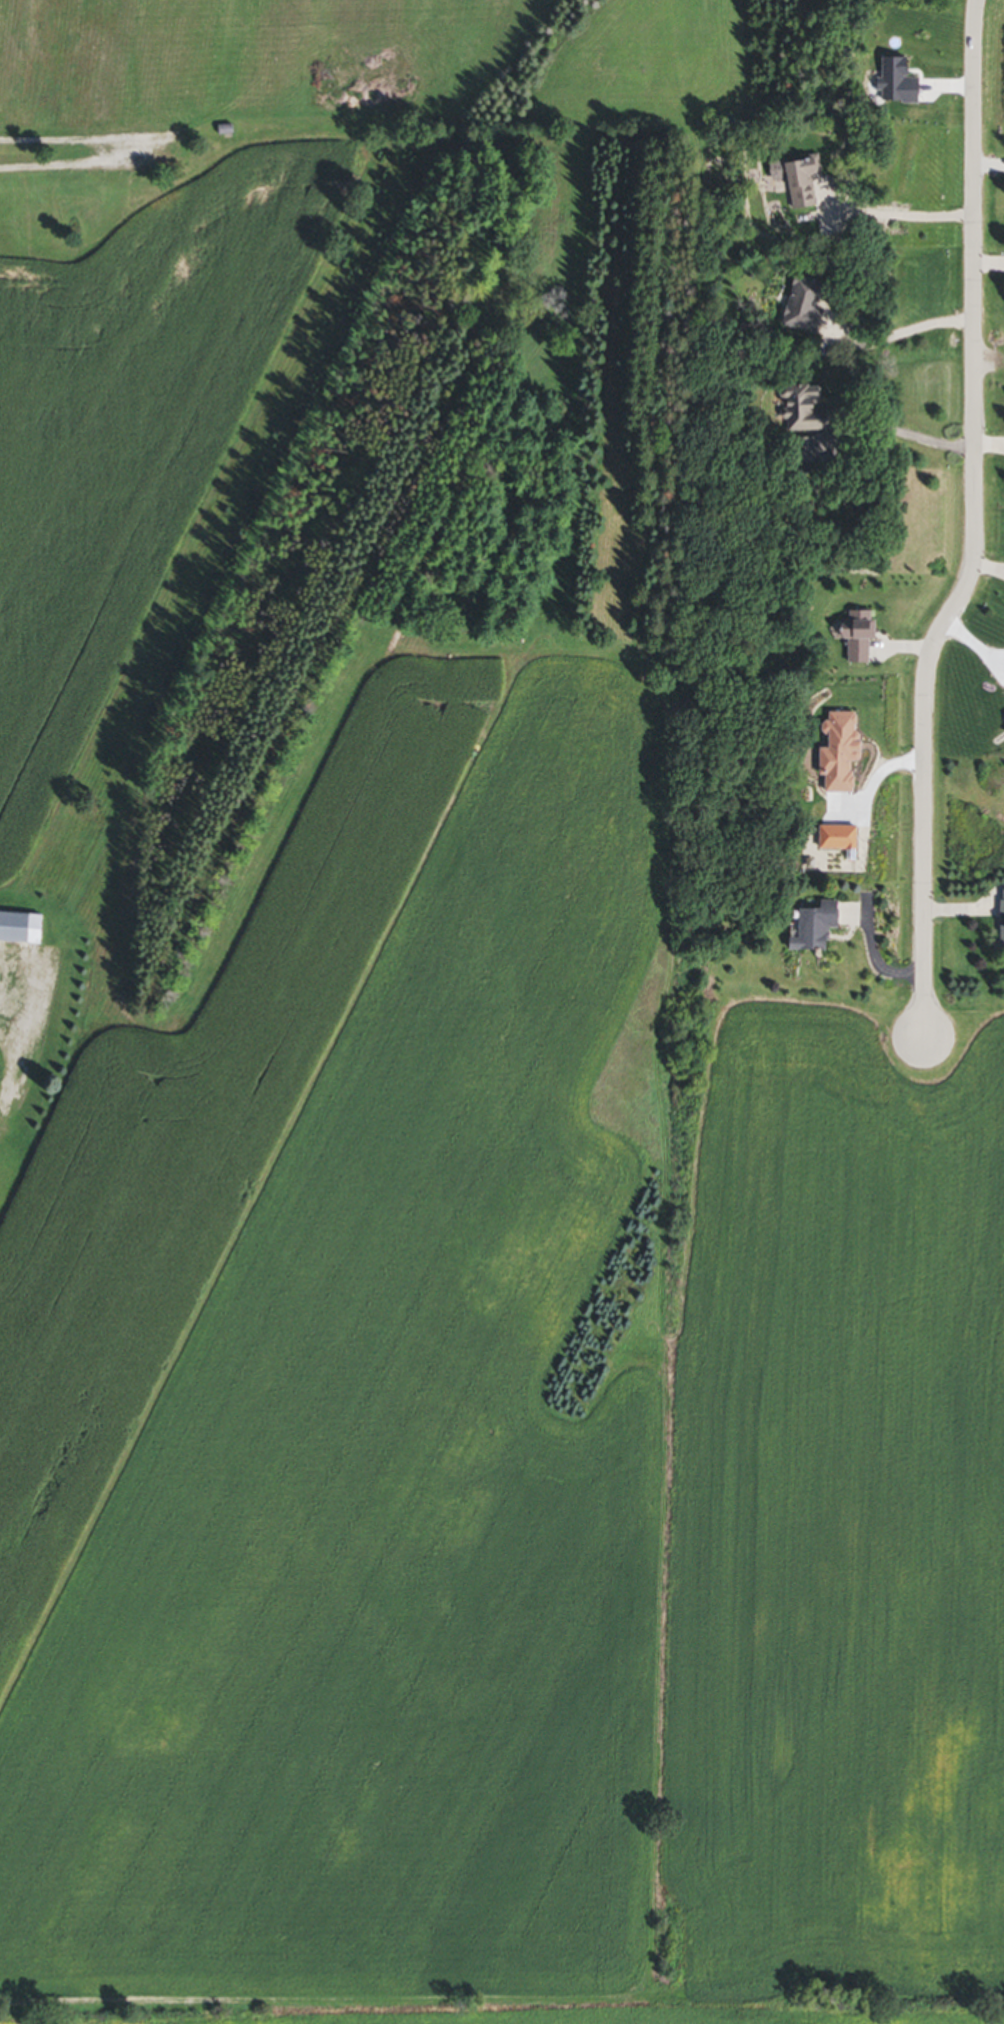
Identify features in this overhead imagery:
building: (225, 132)
road: (83, 151)
building: (791, 181)
road: (884, 214)
building: (801, 308)
road: (897, 332)
building: (800, 411)
road: (909, 437)
building: (801, 452)
road: (974, 524)
building: (1001, 921)
building: (813, 927)
building: (20, 930)
road: (3, 1029)

